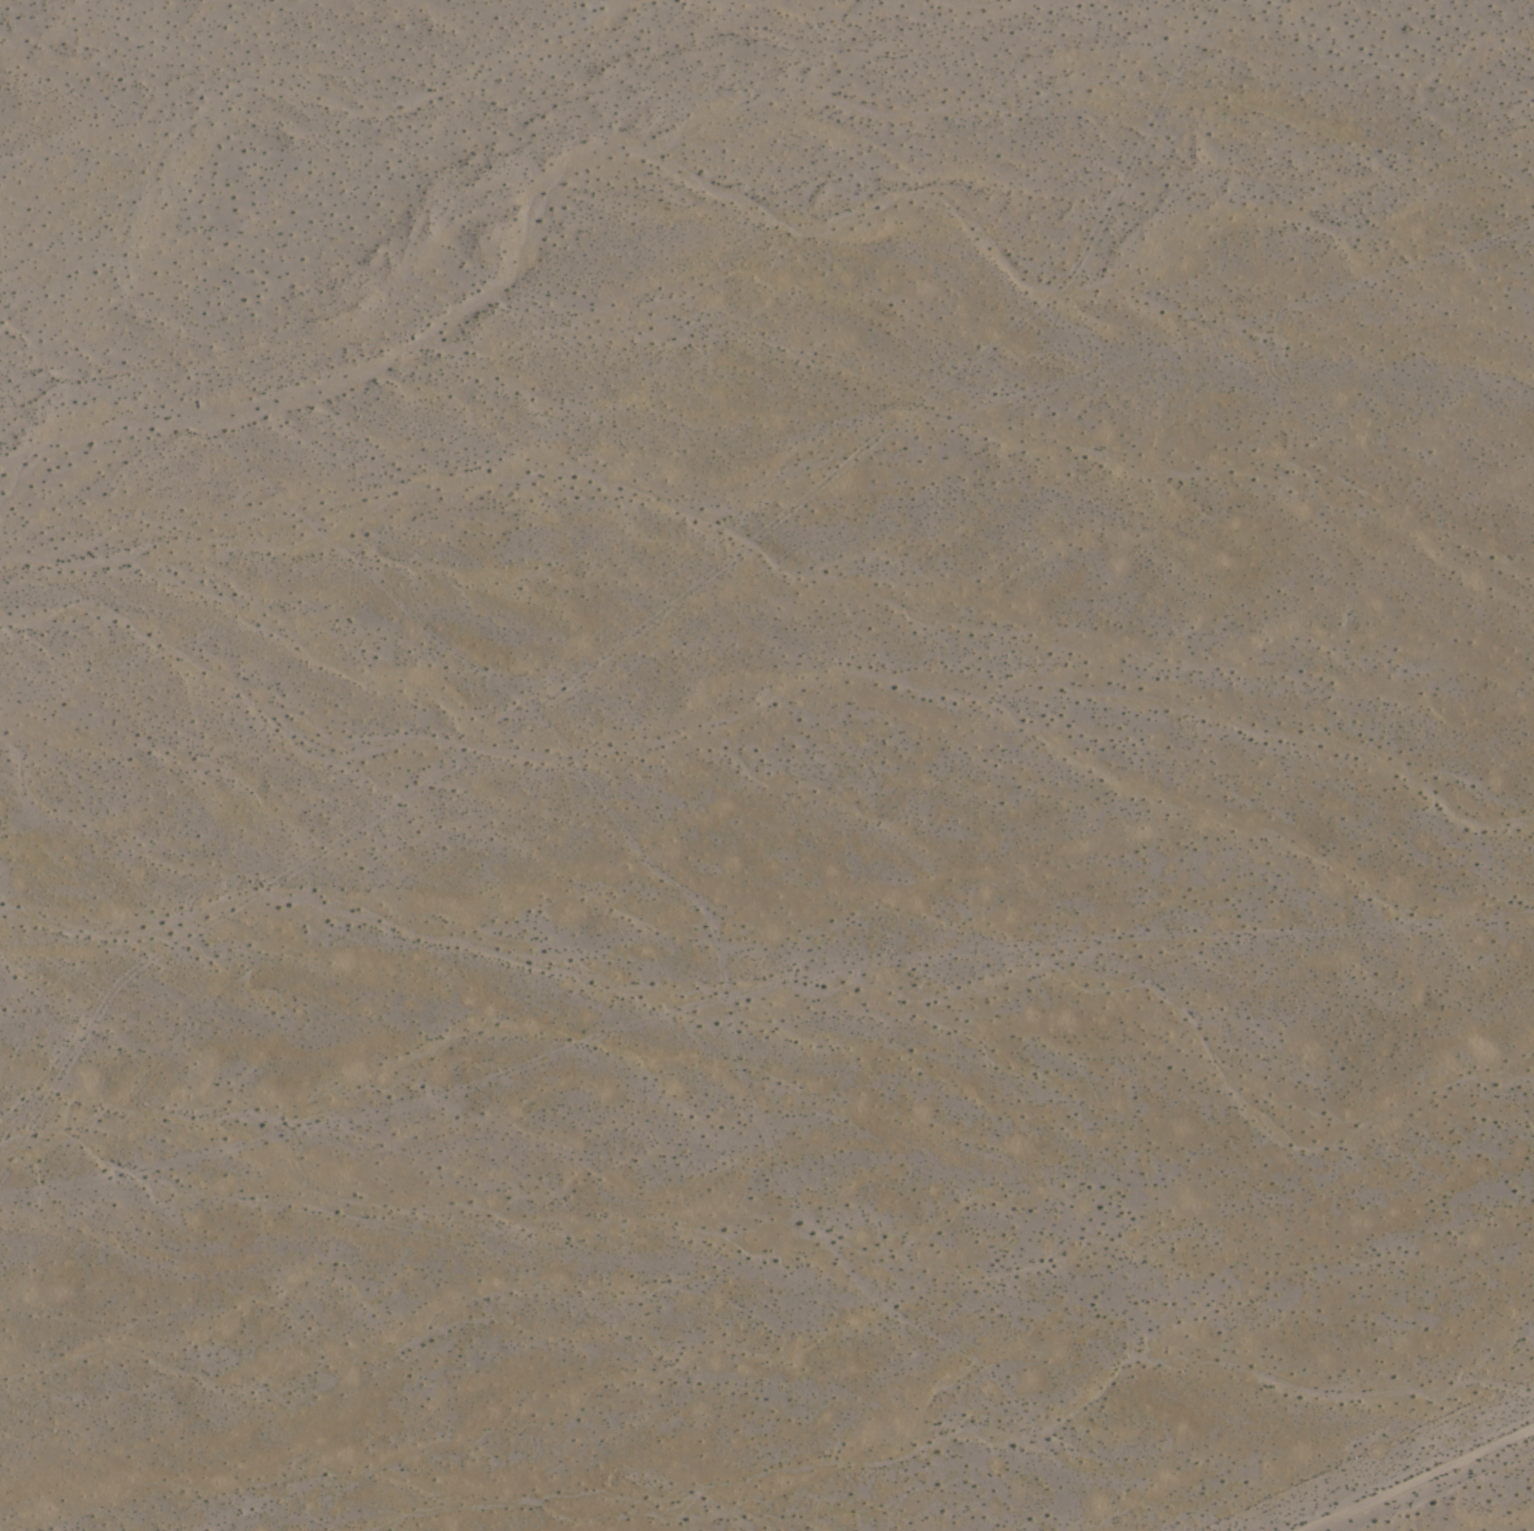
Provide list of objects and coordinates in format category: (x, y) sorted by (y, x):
road: (1452, 1494)

